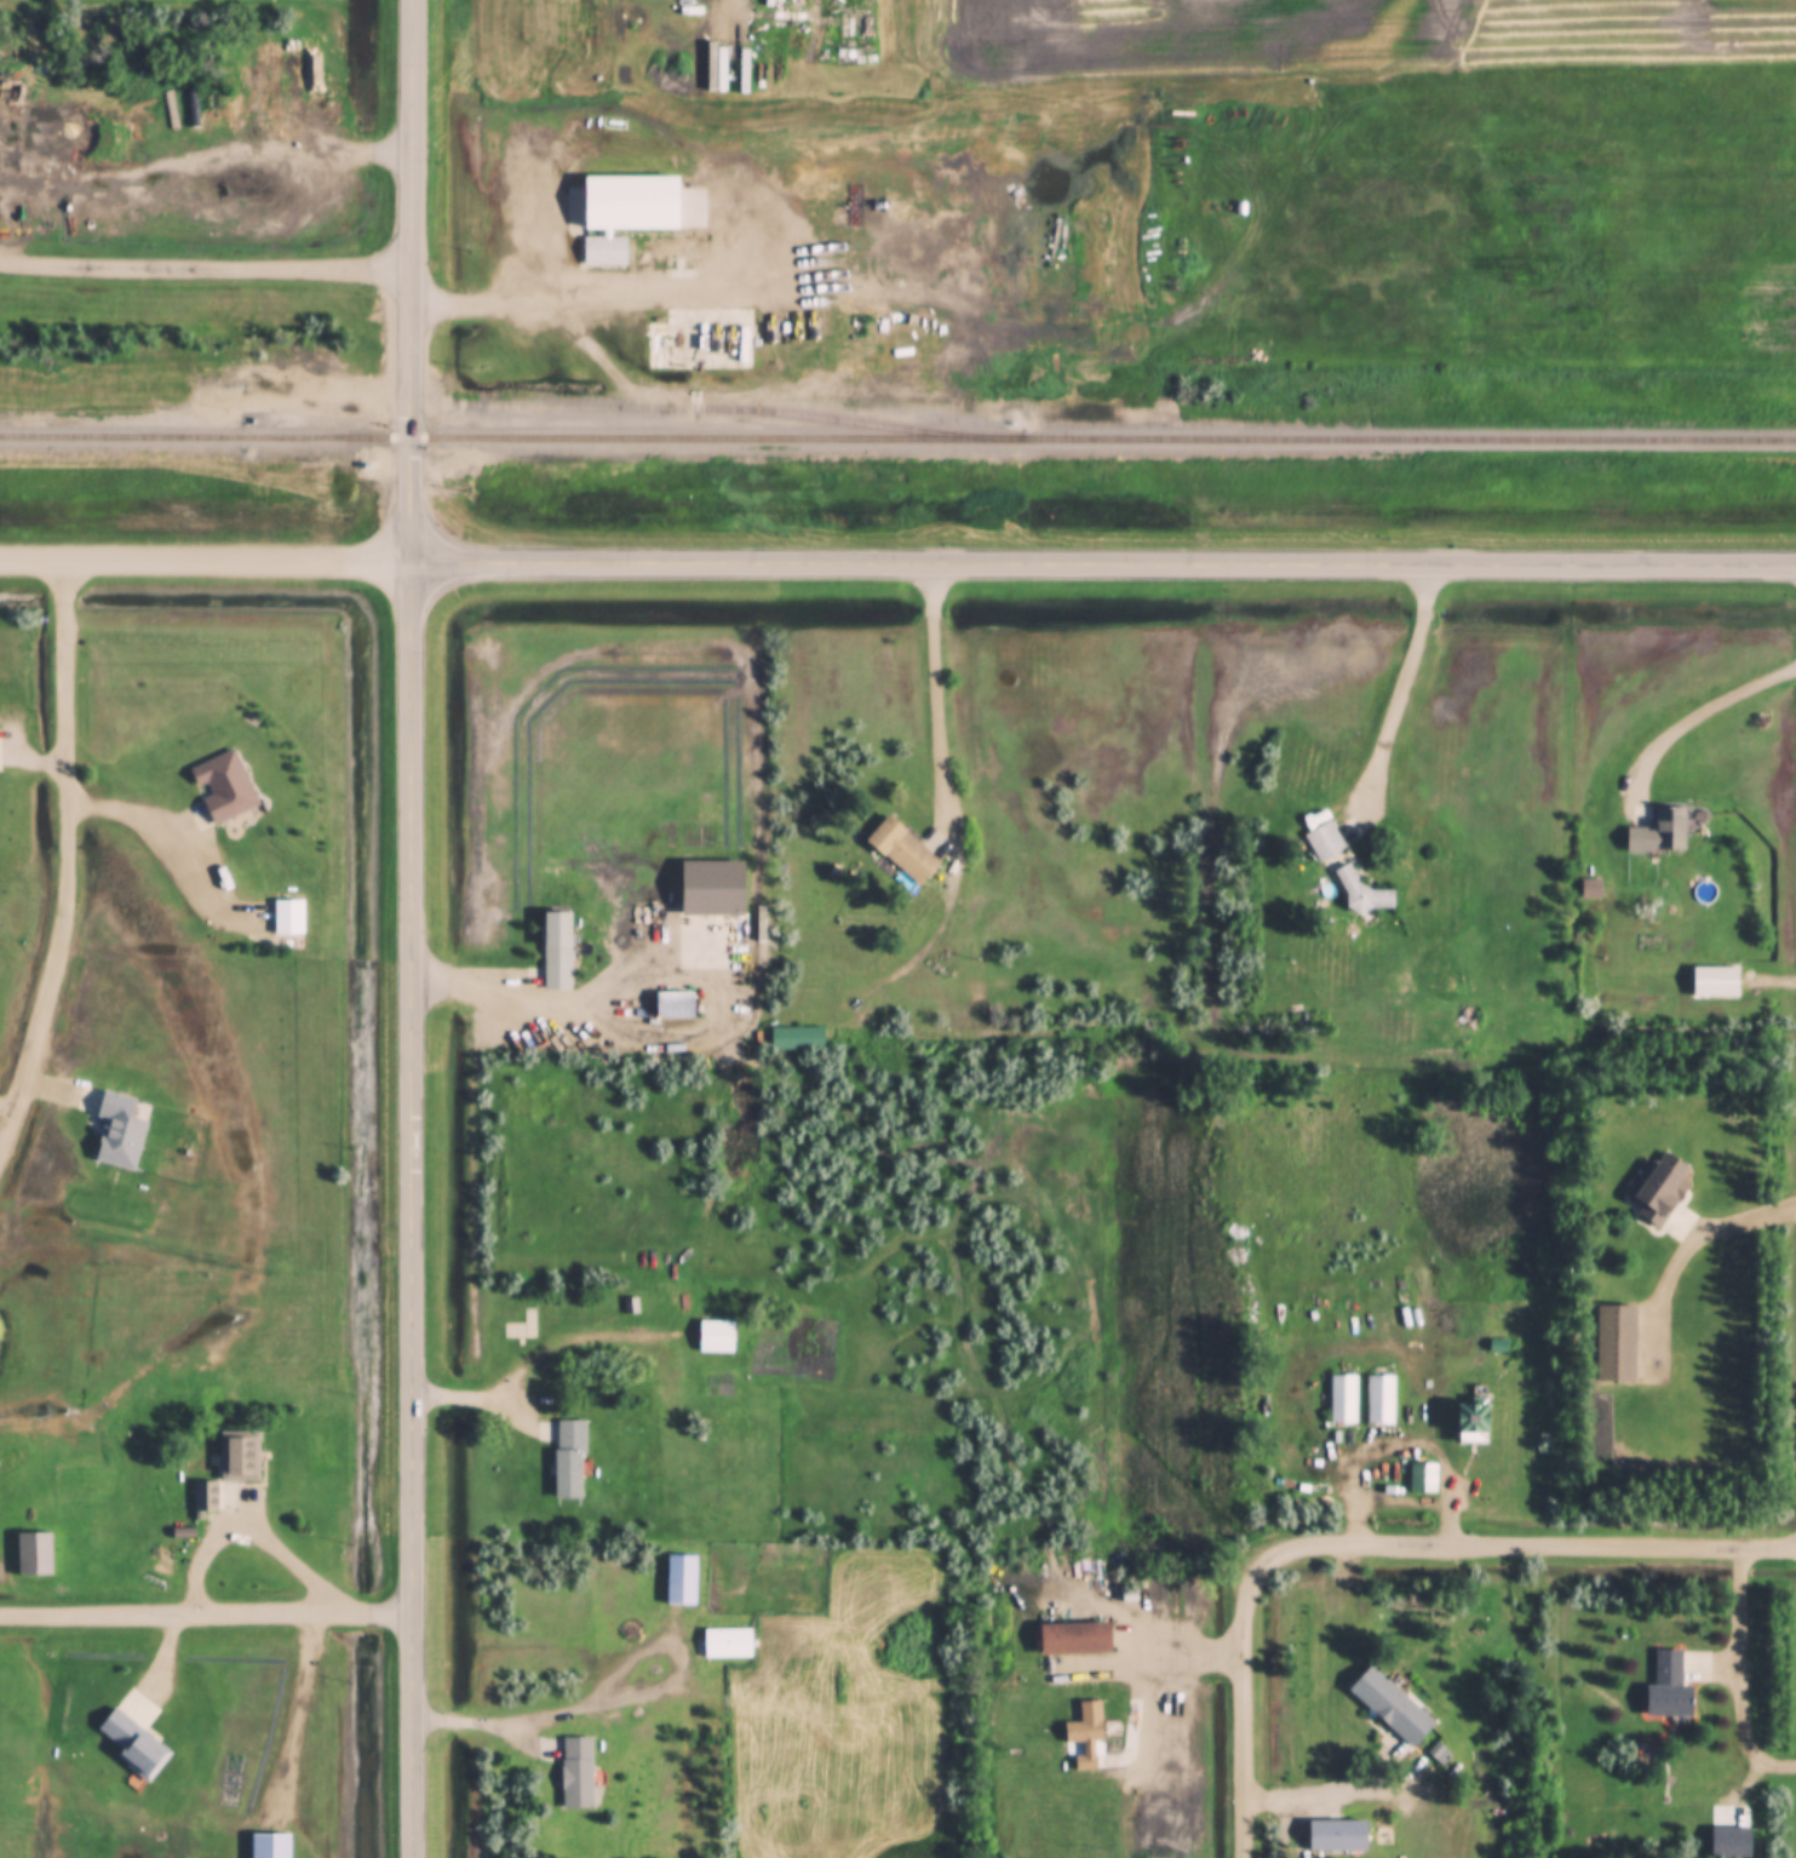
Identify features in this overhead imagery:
crop: (1474, 165)
building: (621, 211)
road: (203, 264)
road: (526, 305)
building: (701, 340)
railway: (741, 411)
railway: (897, 440)
road: (1100, 558)
road: (202, 561)
road: (1413, 683)
road: (941, 693)
road: (1705, 717)
building: (224, 787)
building: (1660, 832)
building: (1331, 838)
building: (903, 850)
road: (70, 864)
building: (712, 888)
building: (1362, 895)
building: (288, 917)
road: (419, 928)
building: (557, 951)
building: (675, 1009)
building: (797, 1039)
building: (121, 1131)
building: (1663, 1191)
building: (522, 1325)
building: (716, 1337)
building: (1616, 1346)
building: (1343, 1400)
building: (1381, 1400)
building: (1474, 1422)
building: (239, 1456)
building: (569, 1460)
building: (1423, 1479)
building: (202, 1497)
road: (1377, 1536)
building: (34, 1554)
building: (681, 1581)
road: (206, 1613)
building: (1075, 1640)
building: (727, 1644)
road: (1745, 1665)
building: (1669, 1690)
building: (1392, 1708)
building: (1088, 1737)
building: (133, 1745)
building: (576, 1774)
road: (1336, 1789)
building: (1338, 1837)
building: (270, 1846)

